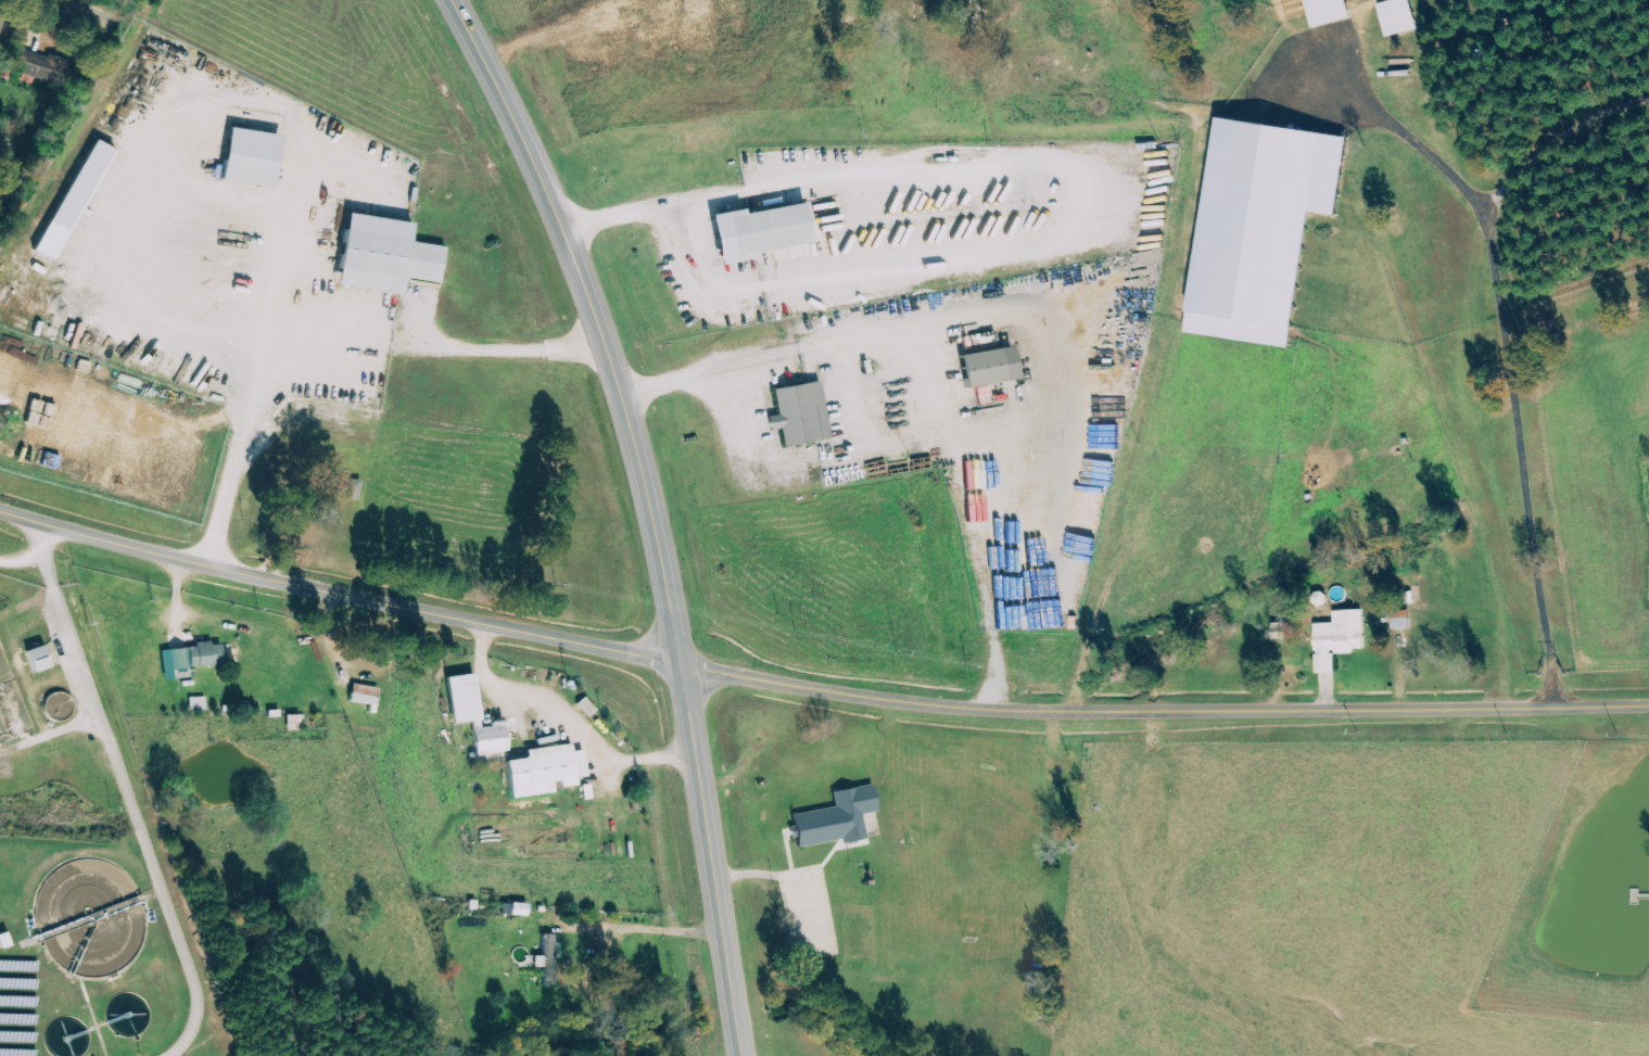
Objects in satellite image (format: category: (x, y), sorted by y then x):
road: (84, 11)
building: (1329, 11)
building: (1399, 16)
building: (41, 66)
building: (251, 157)
building: (74, 200)
building: (759, 231)
building: (1256, 232)
road: (1043, 250)
building: (385, 256)
building: (989, 367)
building: (801, 415)
building: (341, 487)
road: (651, 513)
building: (1283, 631)
building: (1340, 639)
building: (198, 657)
building: (38, 660)
road: (815, 688)
building: (464, 700)
building: (198, 703)
building: (490, 745)
building: (548, 767)
building: (837, 818)
building: (548, 958)
building: (1039, 981)

